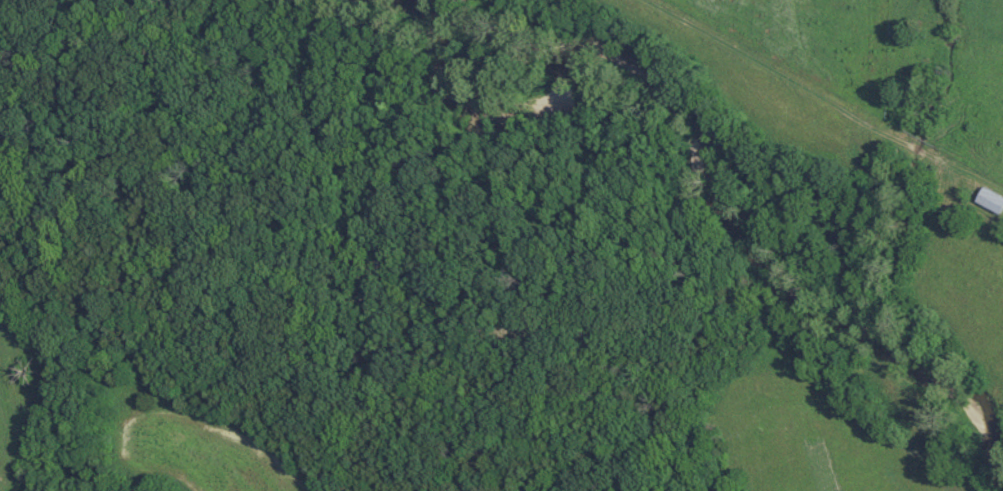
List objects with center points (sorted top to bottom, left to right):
building: (992, 200)

